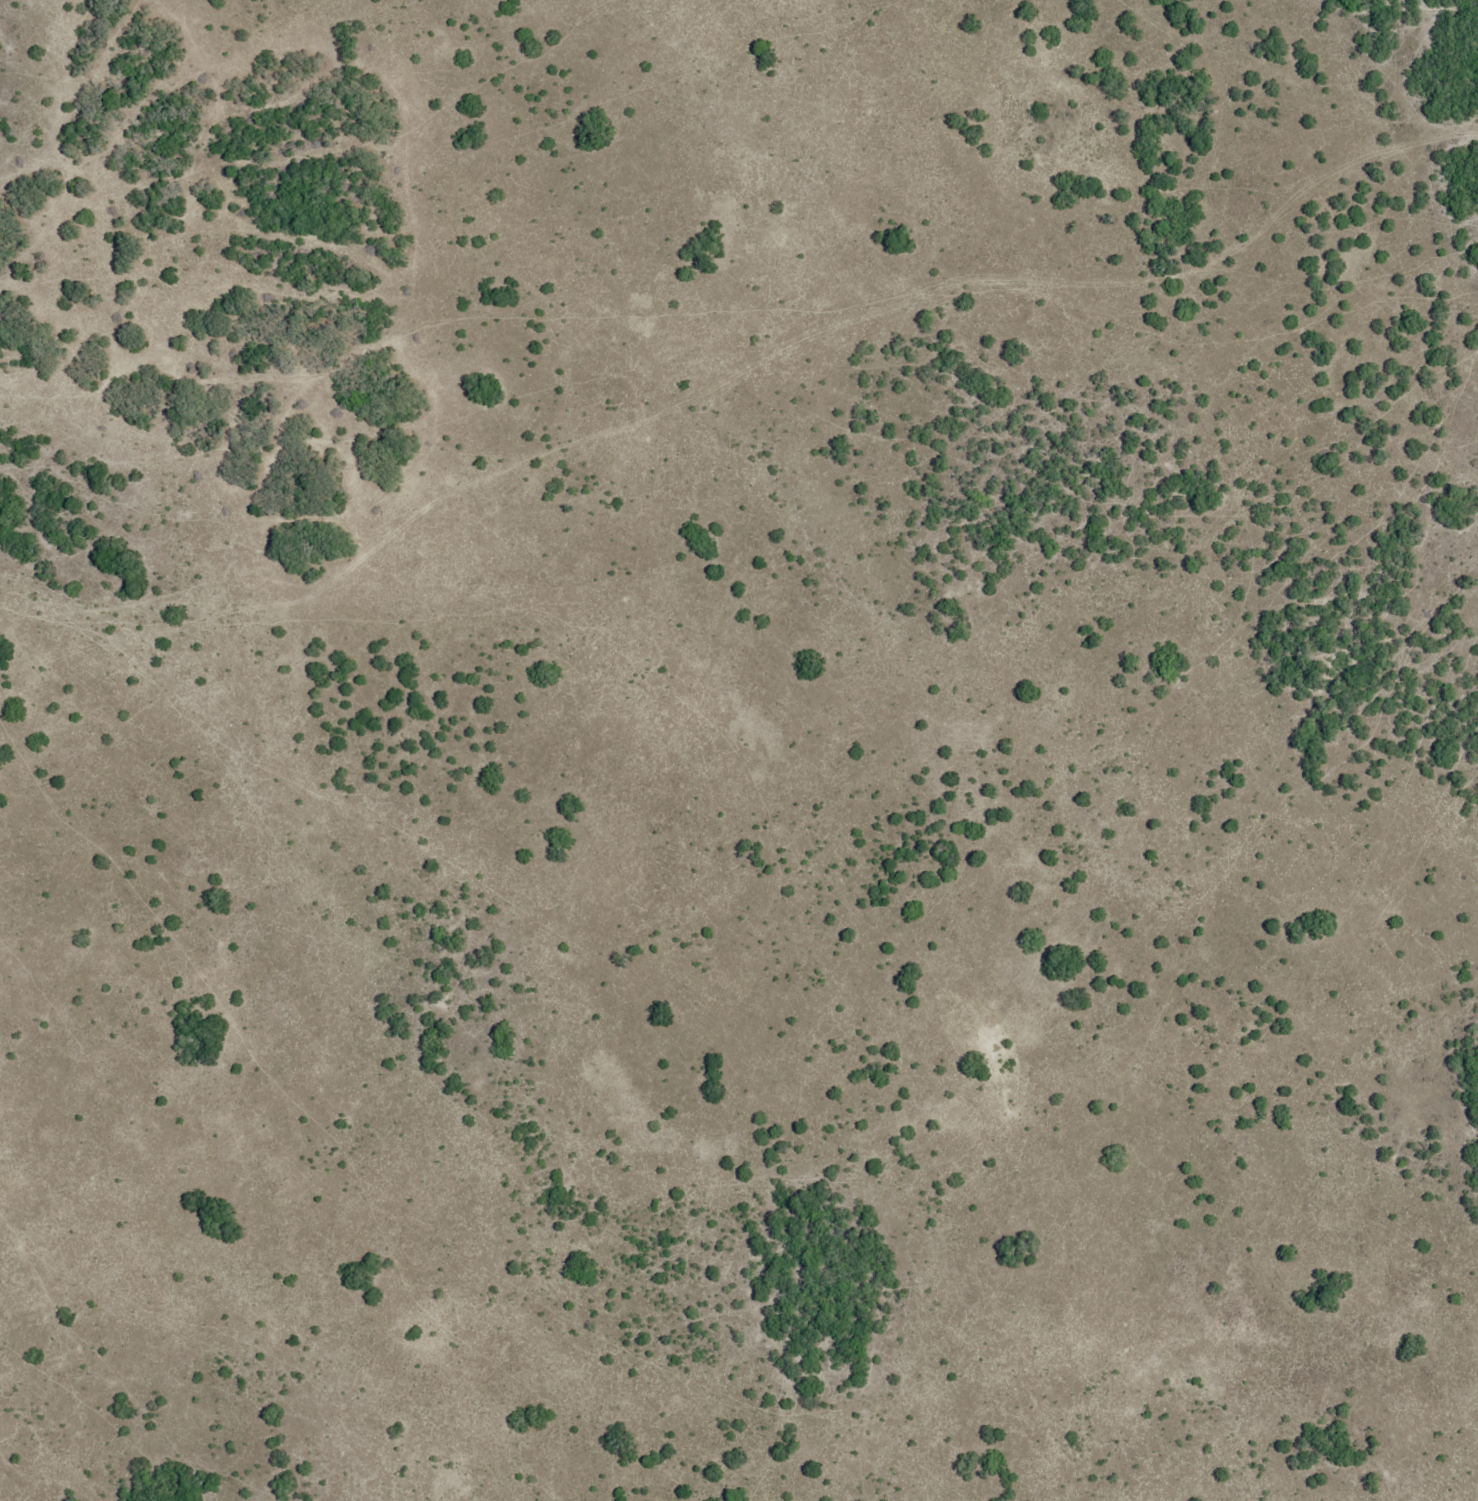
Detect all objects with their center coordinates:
road: (1206, 506)

